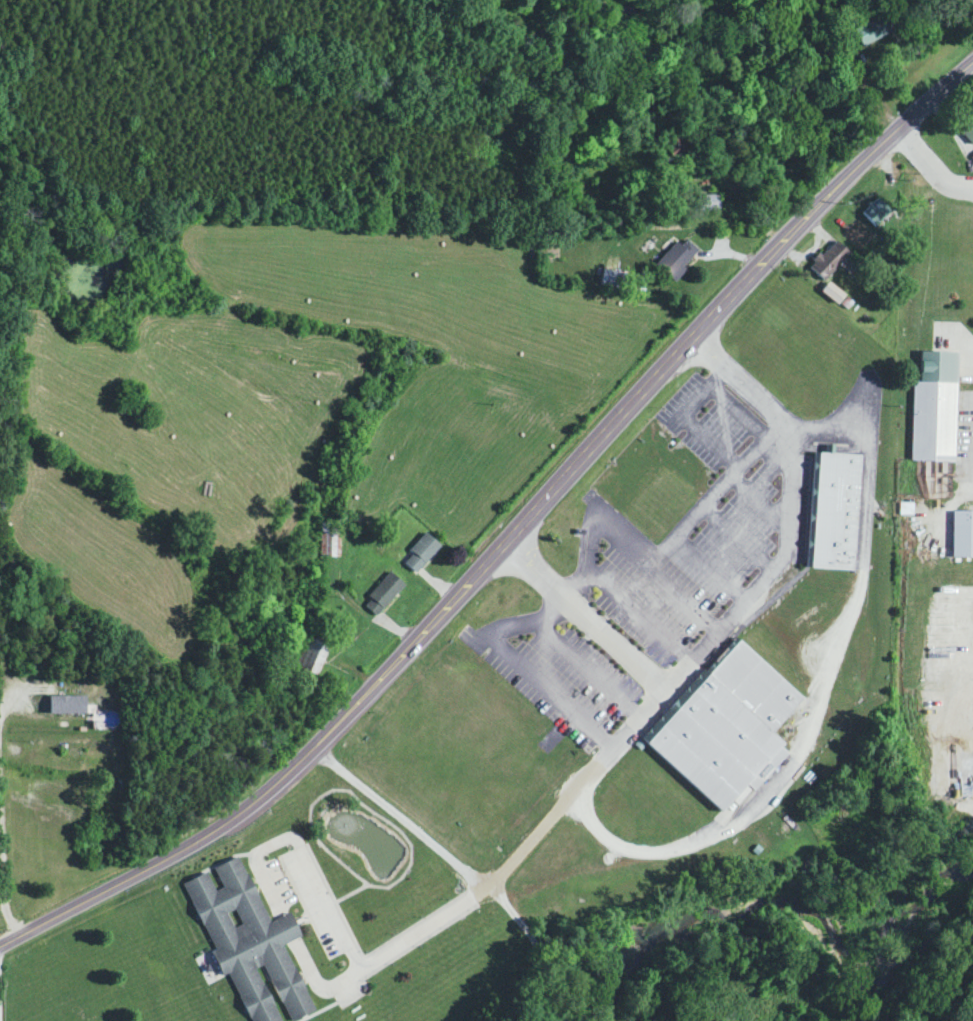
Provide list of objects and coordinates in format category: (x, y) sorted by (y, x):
building: (871, 31)
building: (967, 134)
building: (971, 160)
road: (932, 174)
building: (708, 204)
building: (874, 212)
building: (828, 260)
building: (676, 262)
building: (615, 281)
building: (831, 294)
building: (934, 409)
building: (834, 511)
road: (790, 518)
building: (962, 534)
road: (509, 542)
building: (330, 545)
building: (421, 553)
building: (383, 594)
building: (312, 657)
building: (67, 705)
road: (651, 708)
building: (727, 727)
road: (5, 807)
road: (407, 818)
road: (427, 937)
building: (249, 943)
road: (533, 949)
road: (1, 985)

